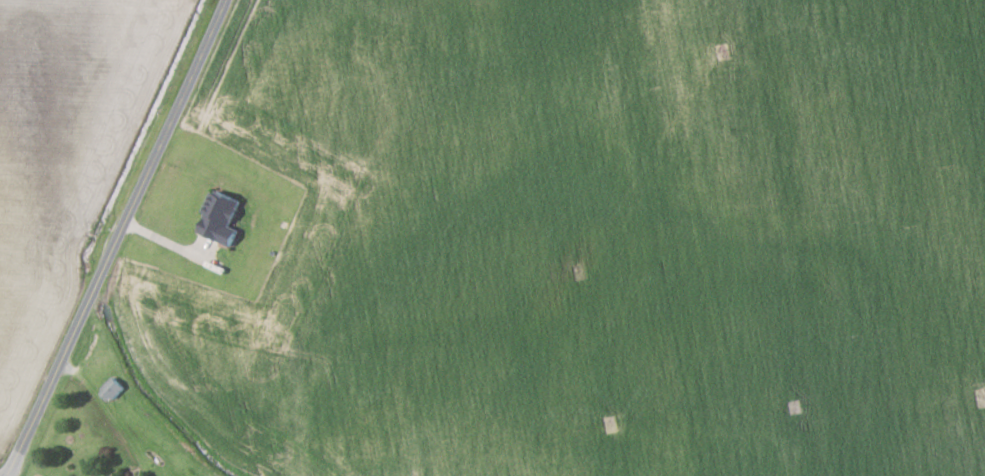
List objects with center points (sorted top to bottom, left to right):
building: (220, 217)
road: (117, 238)
building: (110, 389)
building: (114, 475)

